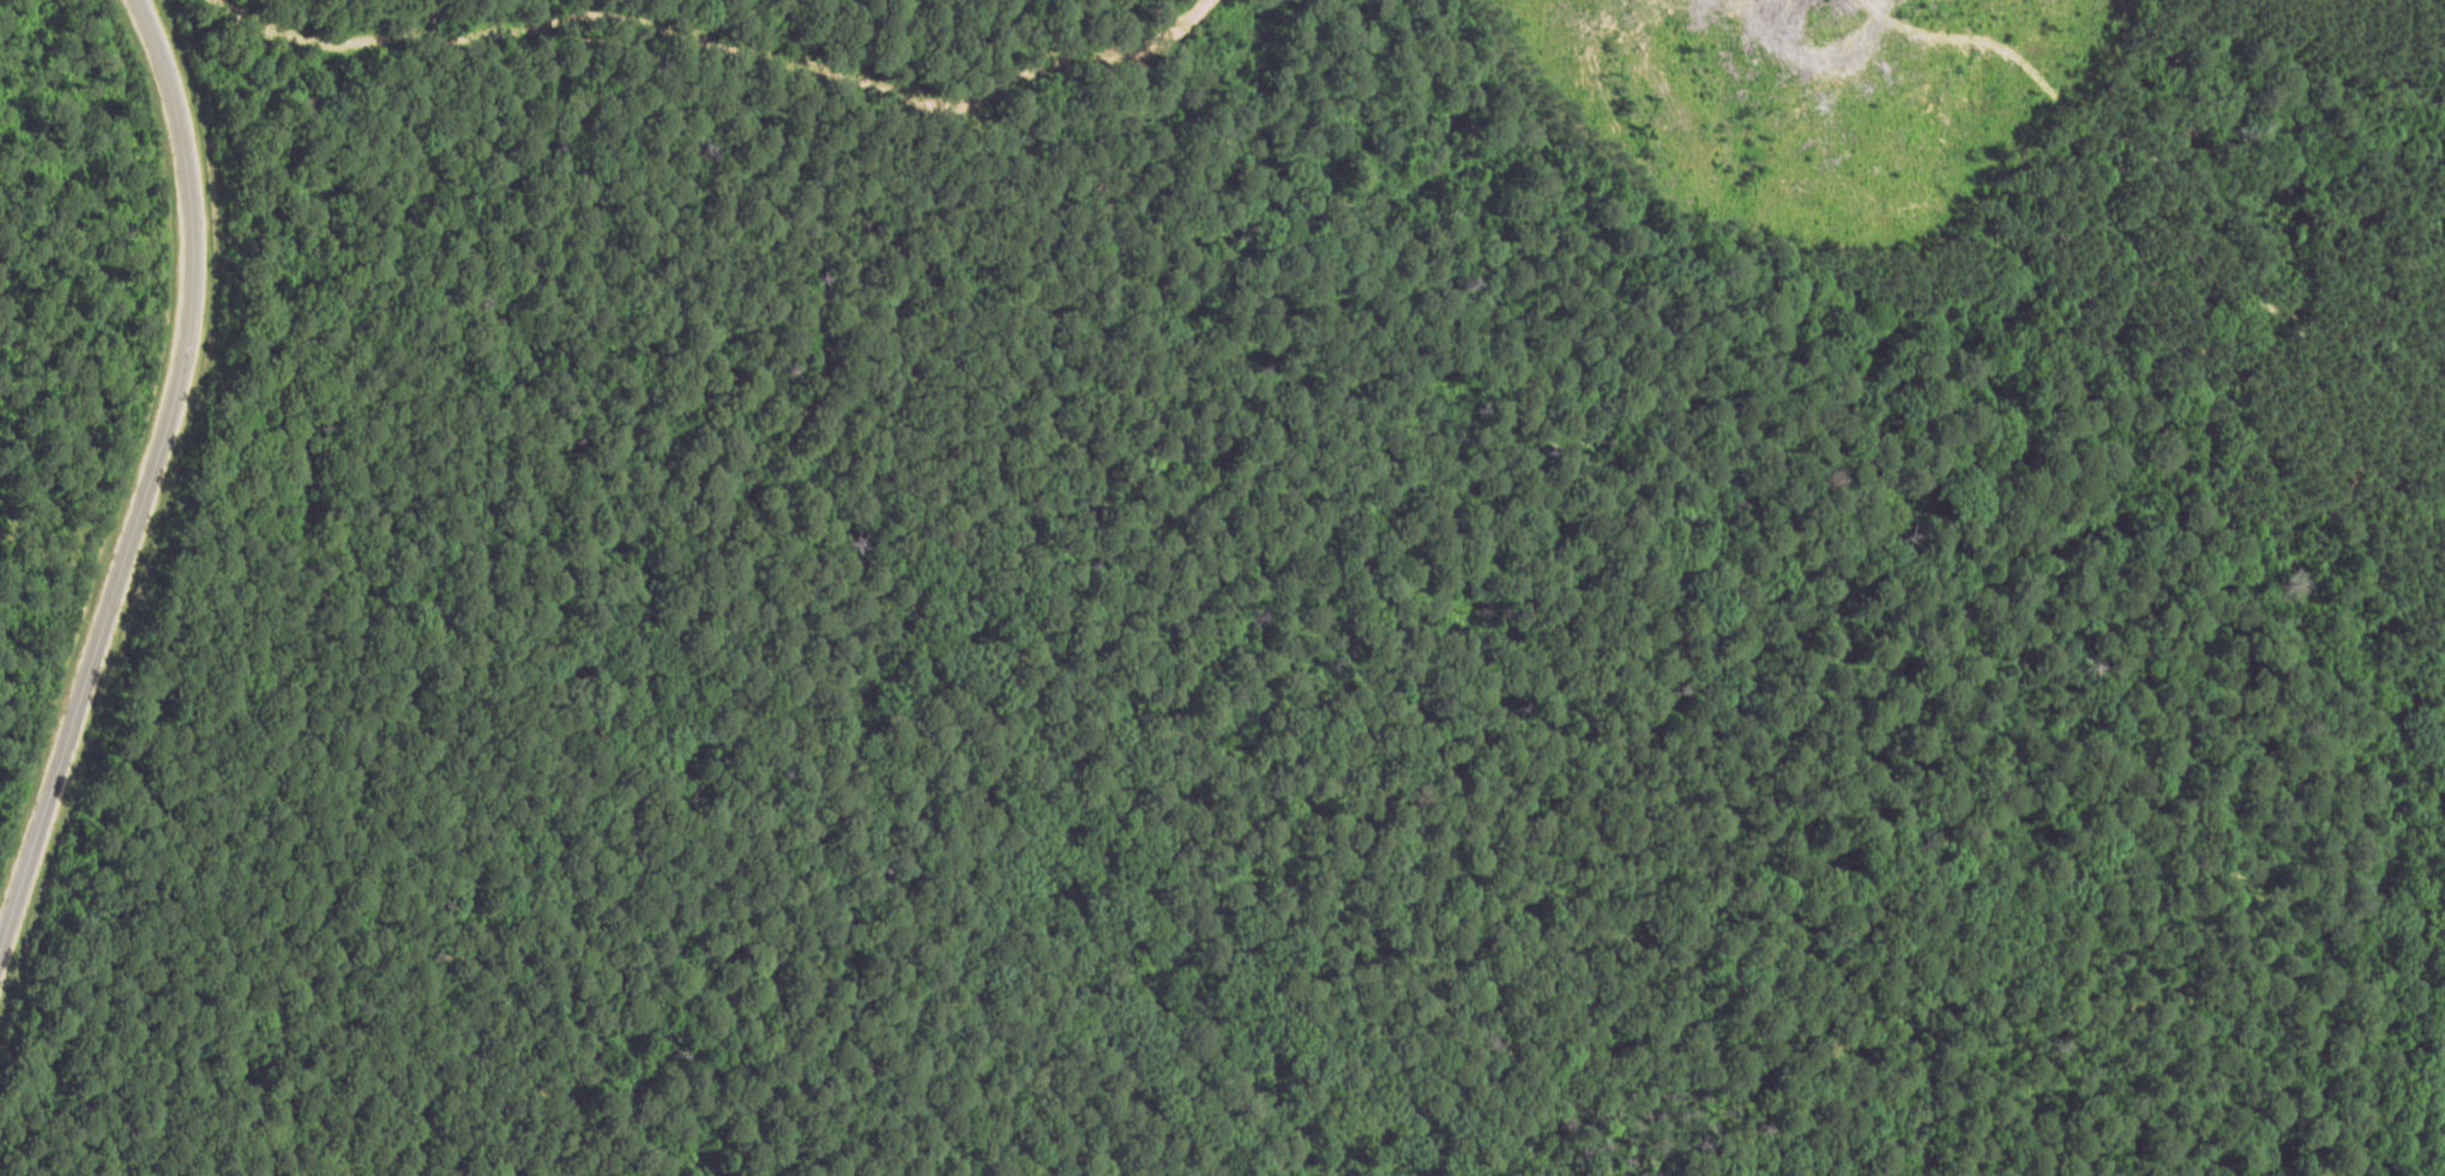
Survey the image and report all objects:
road: (173, 484)

